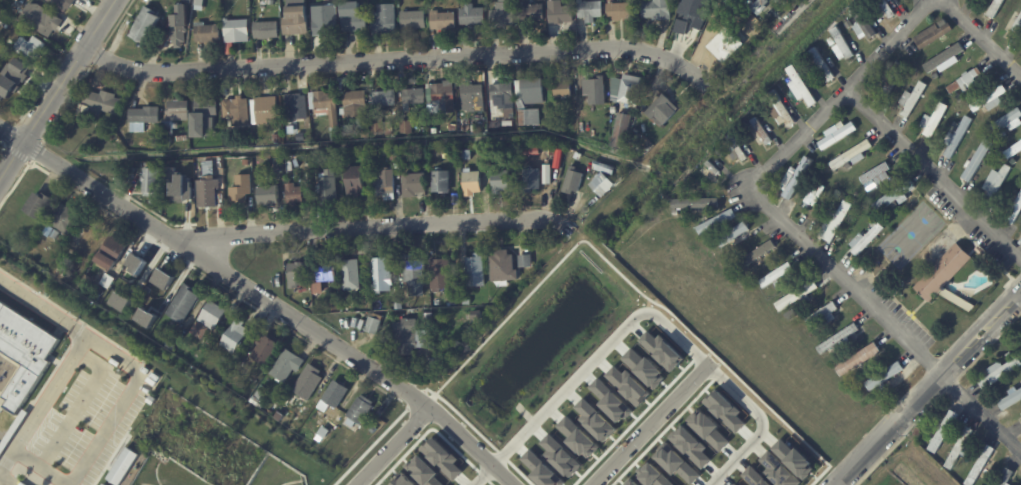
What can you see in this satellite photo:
building: (187, 1)
building: (270, 2)
building: (61, 4)
building: (732, 4)
building: (198, 5)
building: (756, 5)
building: (995, 8)
building: (885, 9)
building: (589, 10)
building: (656, 10)
building: (618, 11)
building: (559, 12)
building: (531, 13)
building: (502, 14)
building: (471, 15)
building: (687, 16)
road: (789, 16)
building: (351, 17)
building: (295, 18)
building: (40, 19)
building: (442, 19)
building: (324, 20)
building: (383, 20)
building: (413, 20)
building: (864, 22)
building: (1015, 22)
building: (145, 25)
building: (177, 26)
building: (236, 30)
building: (265, 30)
building: (207, 34)
building: (933, 34)
road: (982, 37)
building: (832, 42)
building: (37, 43)
building: (726, 44)
building: (842, 46)
building: (26, 49)
road: (400, 56)
building: (944, 61)
building: (822, 64)
building: (891, 78)
building: (965, 80)
building: (9, 86)
building: (800, 87)
building: (562, 89)
building: (630, 90)
road: (839, 90)
road: (57, 91)
building: (528, 92)
building: (594, 92)
building: (502, 94)
building: (412, 96)
building: (441, 97)
building: (384, 98)
building: (473, 99)
building: (912, 99)
building: (990, 100)
building: (353, 104)
building: (97, 105)
building: (325, 110)
building: (613, 110)
building: (177, 111)
building: (265, 111)
building: (663, 111)
building: (237, 112)
building: (780, 112)
building: (144, 115)
building: (295, 117)
building: (529, 118)
building: (202, 119)
building: (935, 121)
building: (494, 123)
building: (507, 123)
building: (1008, 123)
building: (376, 126)
building: (405, 127)
building: (455, 127)
building: (483, 127)
building: (166, 128)
building: (105, 130)
building: (761, 130)
building: (389, 131)
building: (621, 131)
building: (348, 133)
building: (364, 134)
building: (837, 135)
building: (183, 138)
building: (276, 138)
building: (957, 138)
building: (116, 139)
building: (167, 141)
building: (736, 148)
building: (563, 151)
building: (1013, 151)
building: (829, 154)
building: (447, 155)
building: (394, 156)
building: (852, 156)
building: (992, 156)
building: (365, 160)
building: (977, 161)
building: (260, 162)
building: (245, 163)
building: (985, 163)
building: (848, 165)
building: (604, 167)
building: (131, 170)
road: (933, 172)
building: (170, 173)
building: (714, 173)
building: (877, 174)
building: (531, 175)
building: (796, 179)
building: (499, 181)
building: (150, 182)
building: (354, 182)
building: (440, 182)
building: (996, 182)
building: (385, 183)
building: (471, 183)
building: (572, 183)
building: (601, 185)
building: (414, 186)
building: (207, 187)
building: (240, 188)
building: (326, 189)
building: (172, 190)
building: (268, 194)
building: (294, 194)
building: (815, 194)
building: (837, 194)
building: (894, 196)
building: (455, 199)
building: (698, 203)
building: (838, 206)
building: (39, 207)
building: (1014, 212)
building: (683, 214)
building: (63, 219)
building: (715, 222)
building: (835, 222)
road: (370, 225)
building: (55, 235)
building: (734, 235)
building: (865, 240)
building: (707, 242)
building: (724, 251)
building: (980, 252)
building: (108, 254)
building: (756, 255)
building: (453, 258)
building: (139, 265)
road: (214, 265)
building: (502, 267)
building: (525, 267)
building: (763, 267)
building: (475, 271)
building: (323, 272)
building: (350, 275)
building: (440, 275)
road: (847, 275)
building: (296, 276)
building: (381, 276)
building: (775, 276)
building: (413, 278)
building: (946, 278)
building: (106, 281)
building: (88, 283)
building: (777, 284)
building: (159, 286)
building: (317, 289)
building: (797, 297)
road: (28, 298)
building: (343, 298)
building: (121, 301)
building: (466, 302)
building: (183, 304)
building: (333, 305)
building: (397, 305)
building: (366, 309)
road: (645, 312)
building: (790, 315)
building: (427, 316)
building: (822, 316)
building: (146, 317)
building: (207, 321)
road: (67, 325)
building: (137, 325)
building: (169, 327)
building: (371, 328)
building: (425, 328)
building: (234, 337)
building: (410, 338)
building: (838, 340)
building: (265, 350)
building: (662, 350)
building: (25, 352)
building: (1011, 356)
building: (863, 359)
building: (286, 366)
building: (1000, 371)
building: (885, 376)
building: (308, 382)
road: (928, 387)
building: (882, 388)
building: (332, 397)
building: (1011, 397)
building: (257, 400)
road: (123, 401)
road: (43, 402)
building: (359, 411)
road: (980, 415)
building: (594, 419)
road: (650, 426)
building: (709, 429)
building: (943, 431)
building: (323, 433)
road: (472, 444)
road: (391, 445)
building: (690, 445)
building: (960, 447)
building: (1, 450)
building: (442, 457)
building: (794, 458)
building: (981, 465)
building: (123, 466)
building: (778, 470)
building: (754, 477)
building: (1005, 477)
building: (631, 482)
building: (104, 484)
building: (735, 484)

